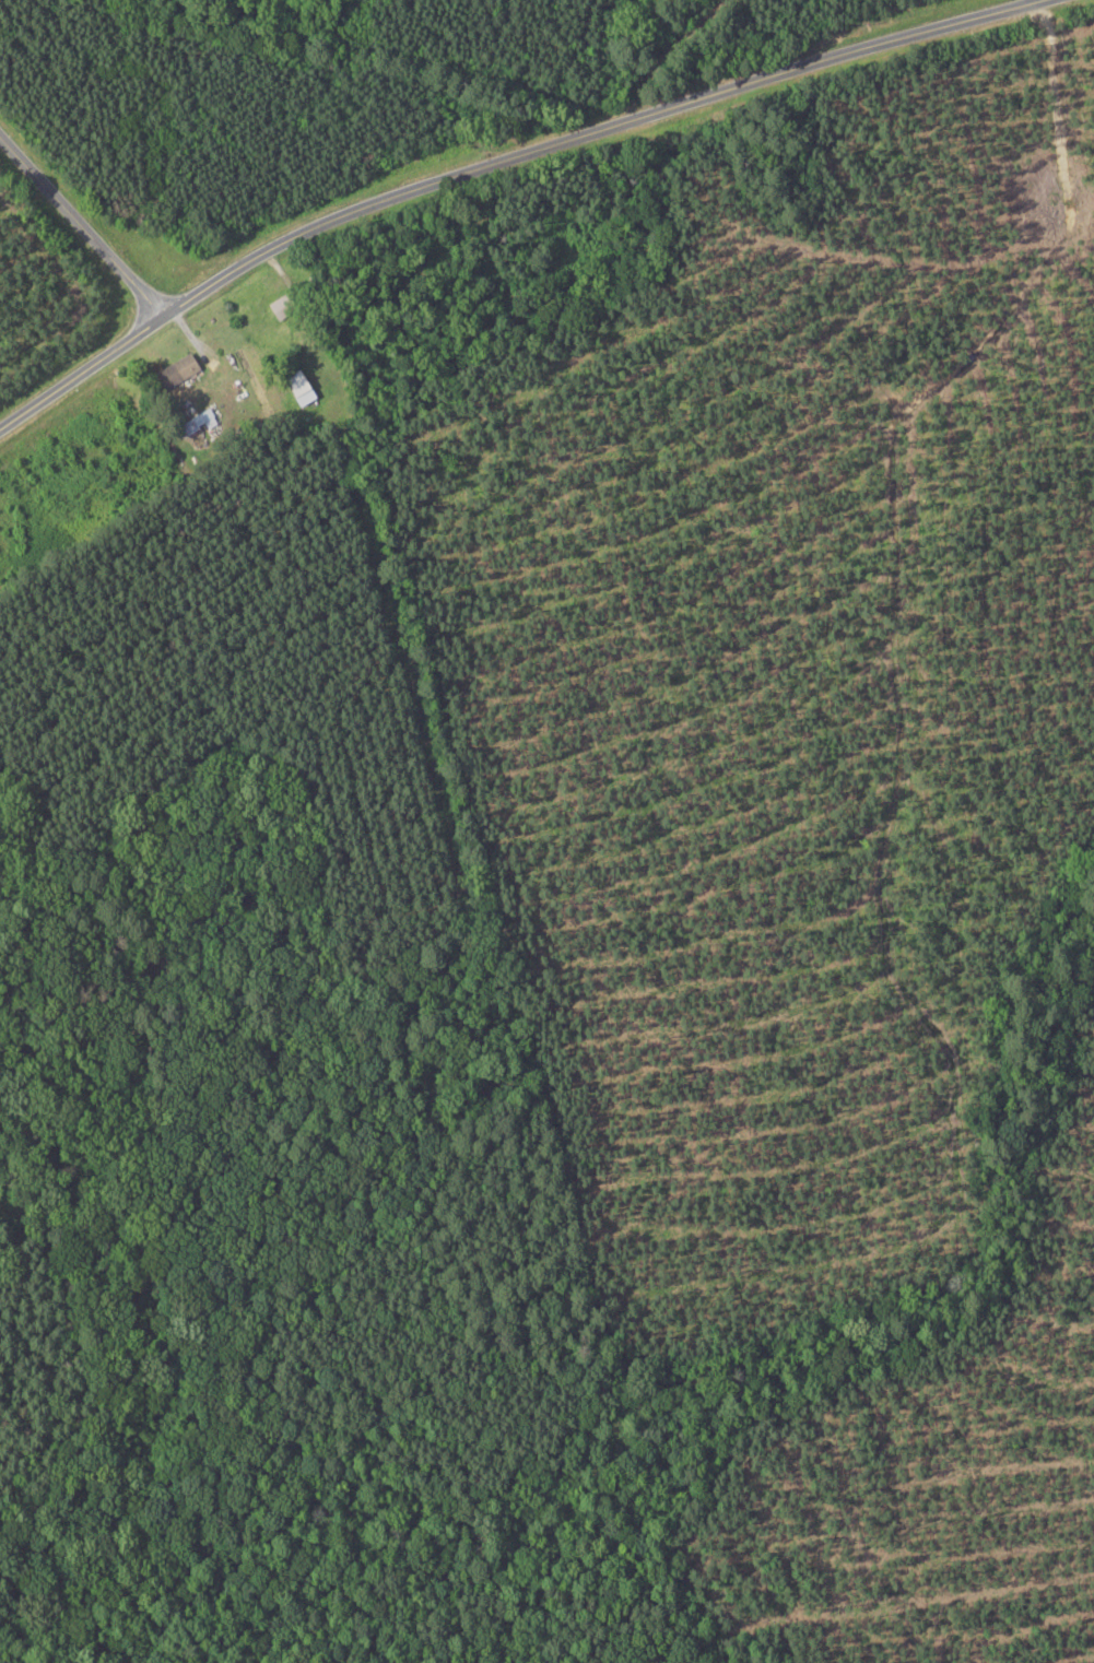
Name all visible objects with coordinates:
road: (7, 138)
road: (494, 162)
road: (84, 227)
building: (173, 370)
building: (195, 422)

